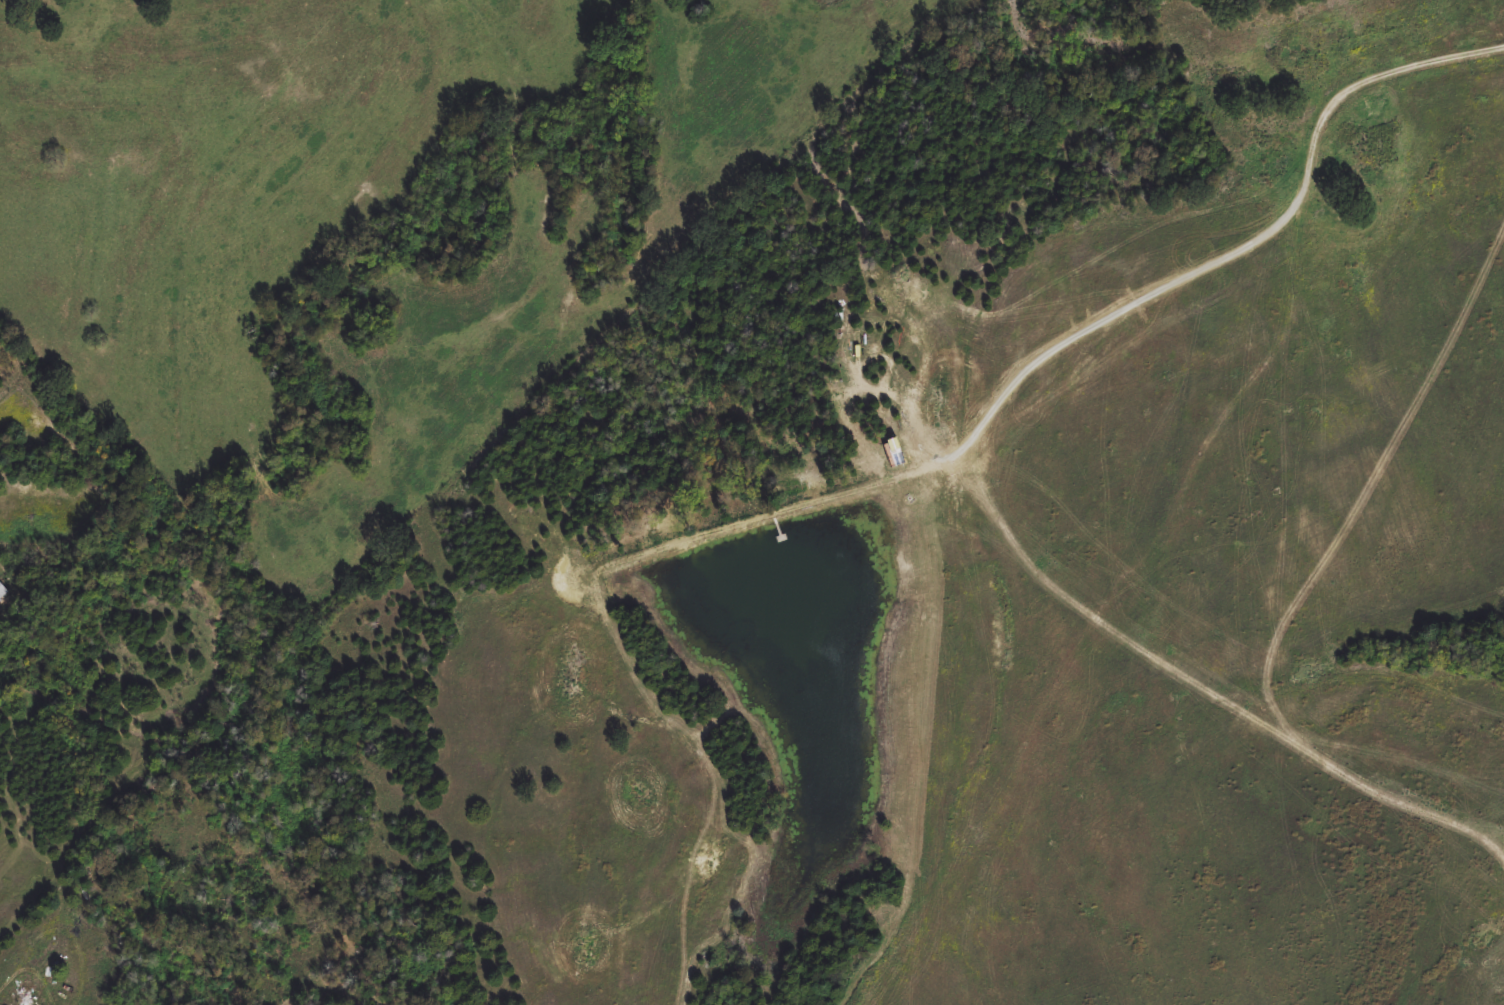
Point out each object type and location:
road: (1227, 261)
building: (2, 594)

